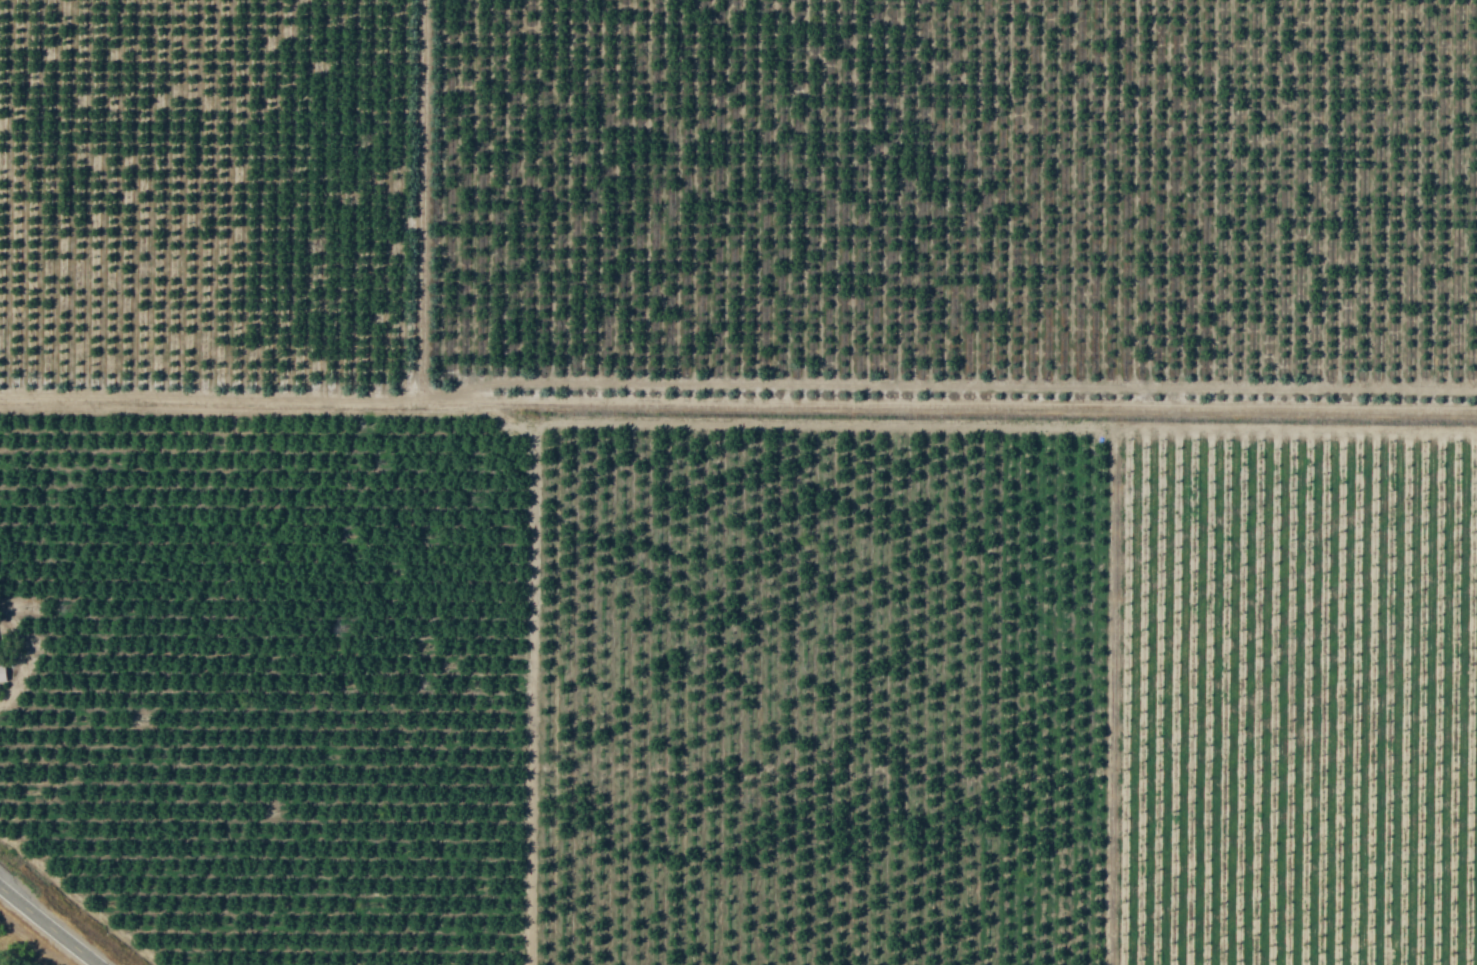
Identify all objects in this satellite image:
road: (49, 924)

